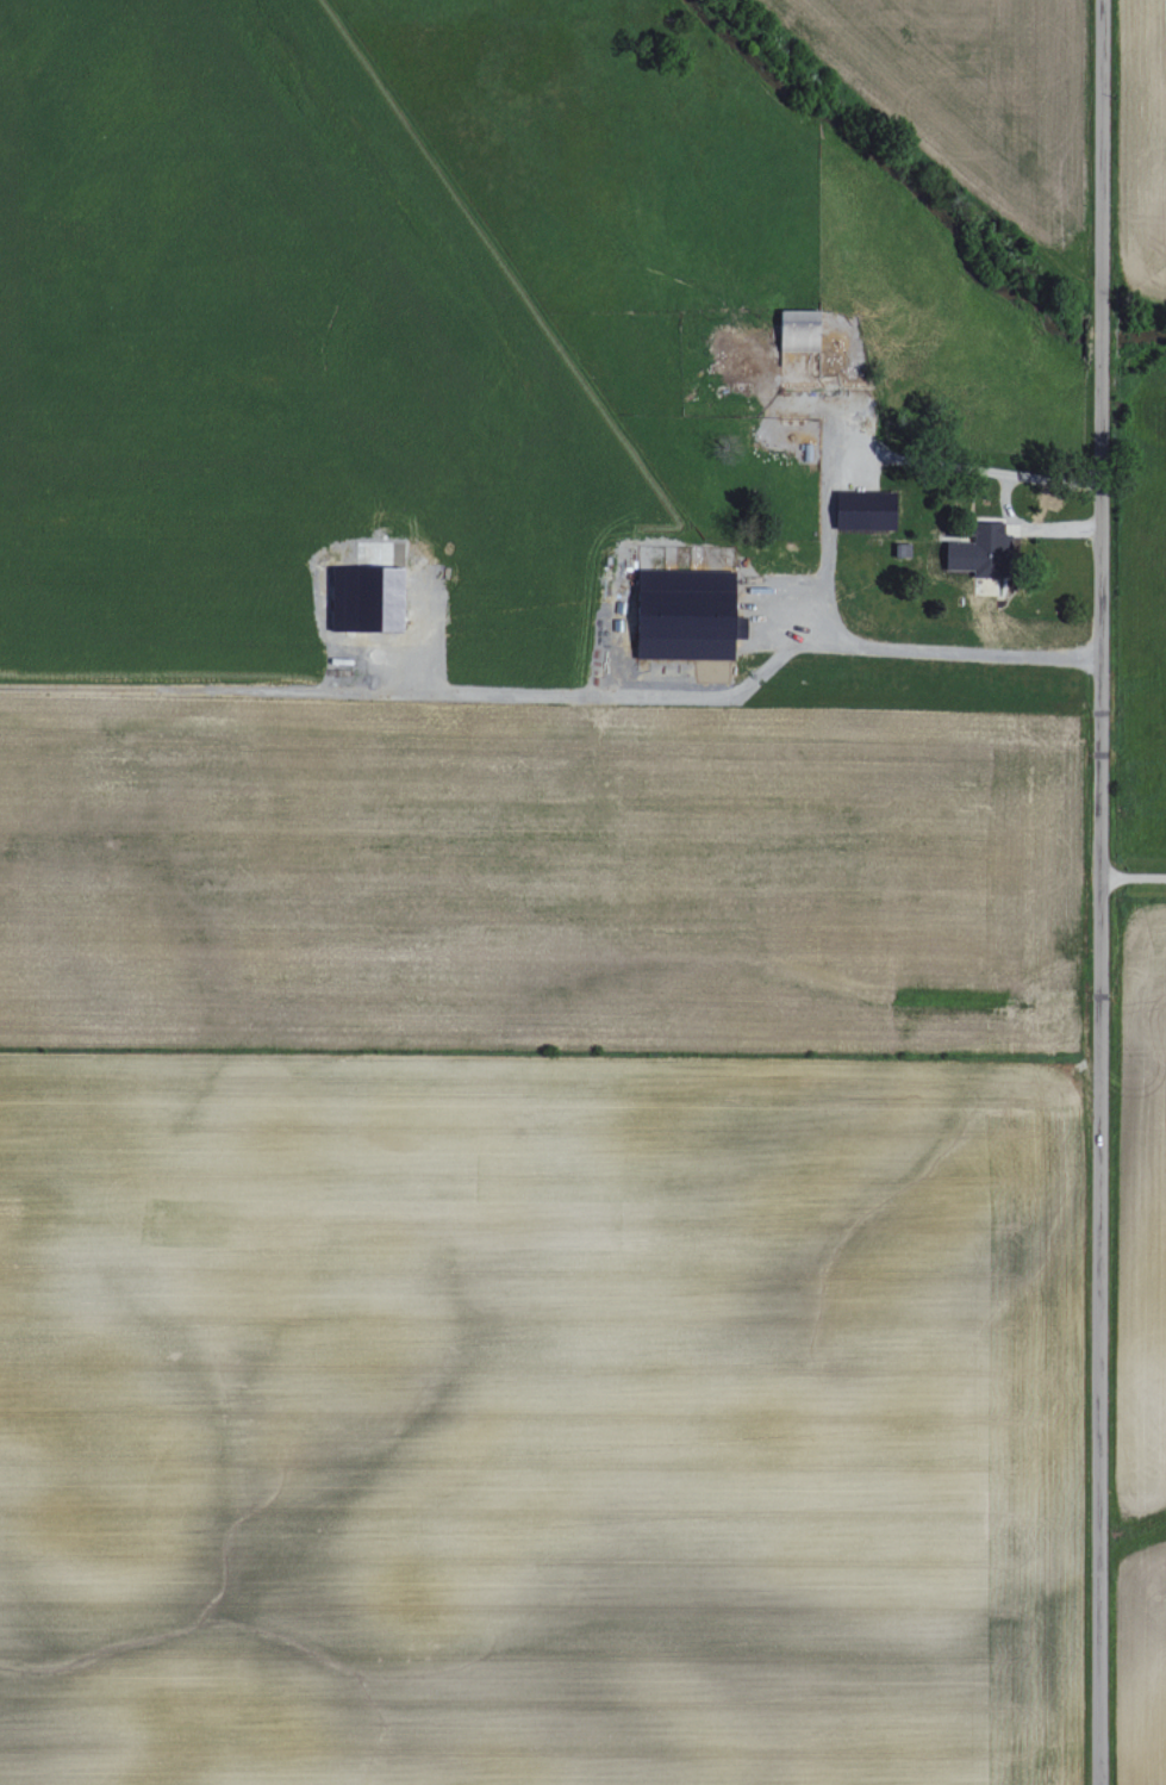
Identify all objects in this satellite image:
building: (798, 331)
road: (964, 468)
road: (1003, 500)
building: (867, 514)
building: (902, 551)
building: (977, 552)
road: (1131, 878)
road: (1096, 891)

